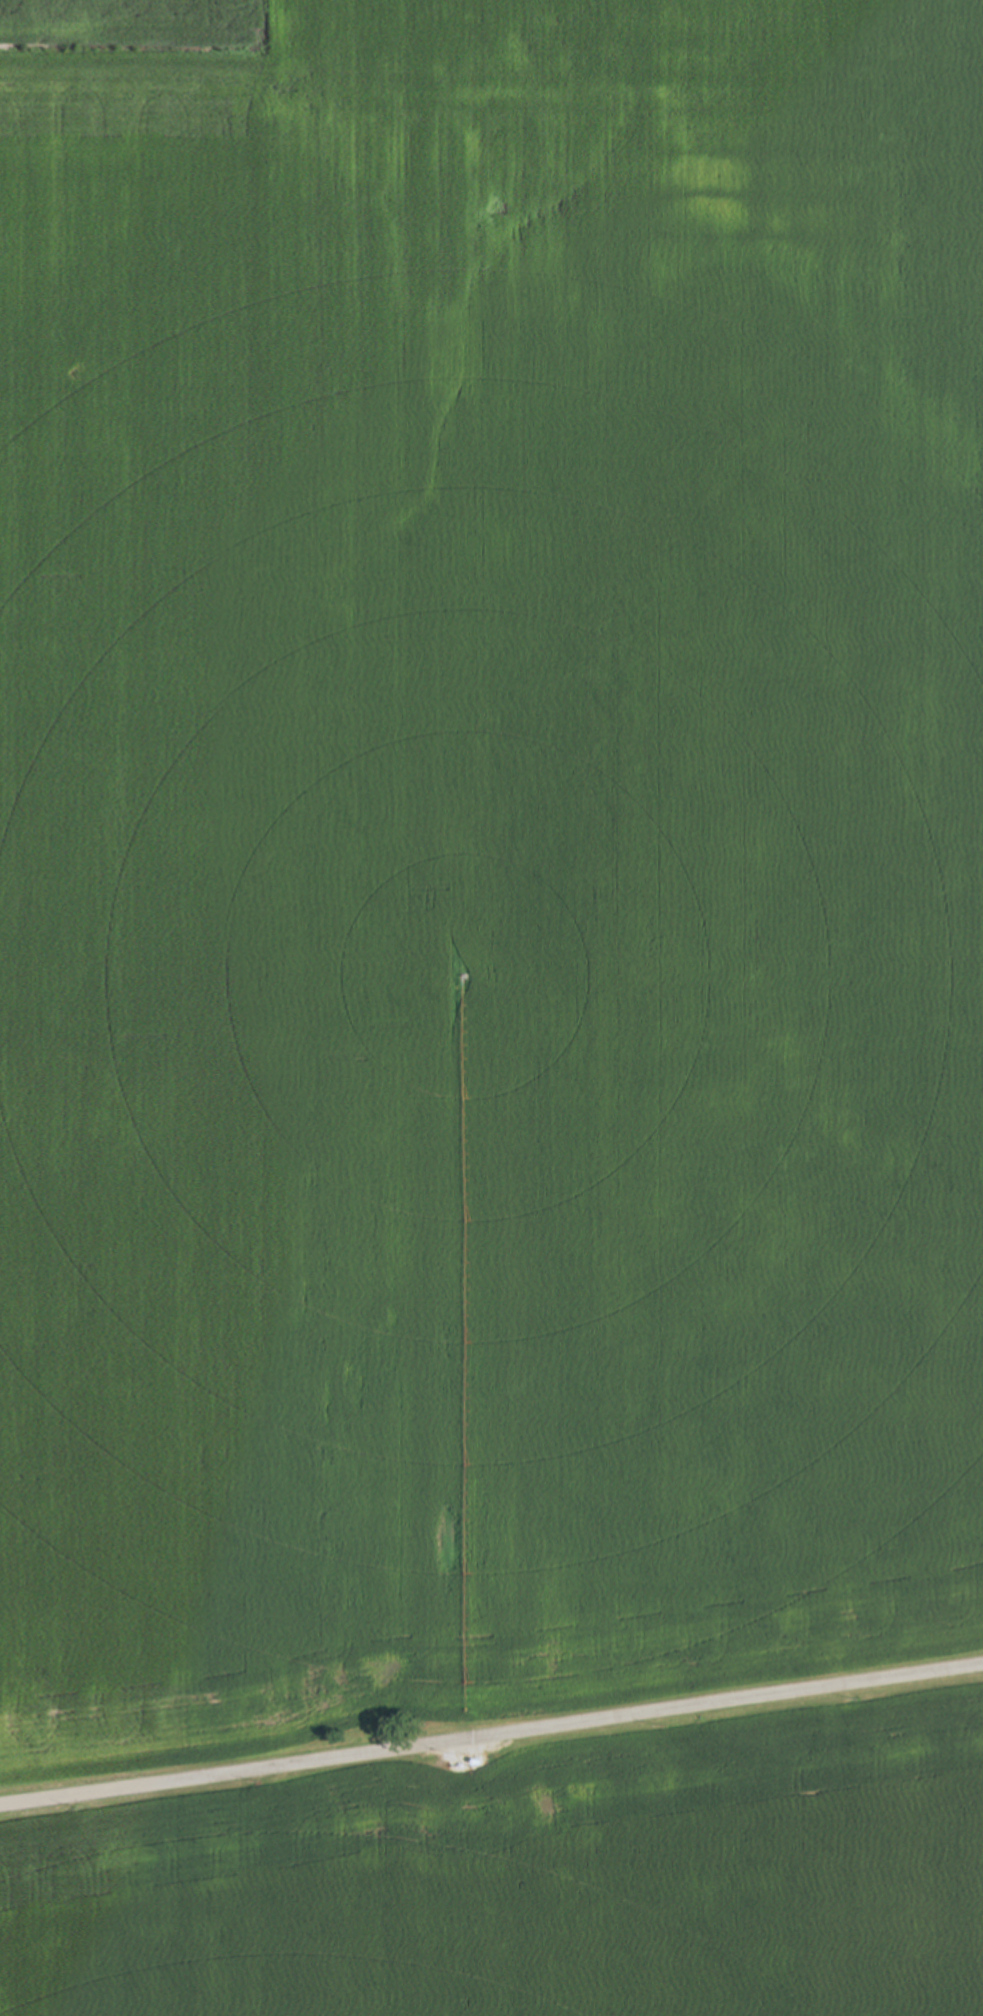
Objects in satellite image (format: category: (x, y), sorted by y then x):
road: (491, 1744)

